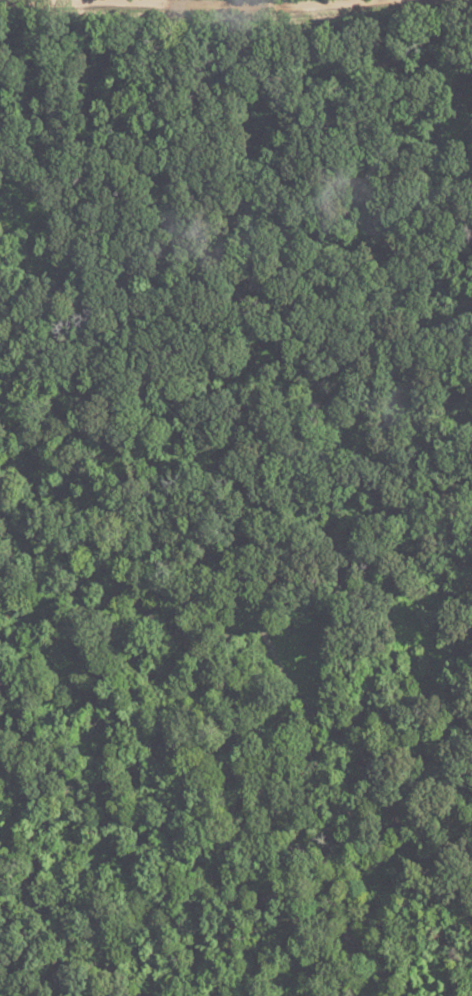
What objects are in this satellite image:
road: (168, 3)

